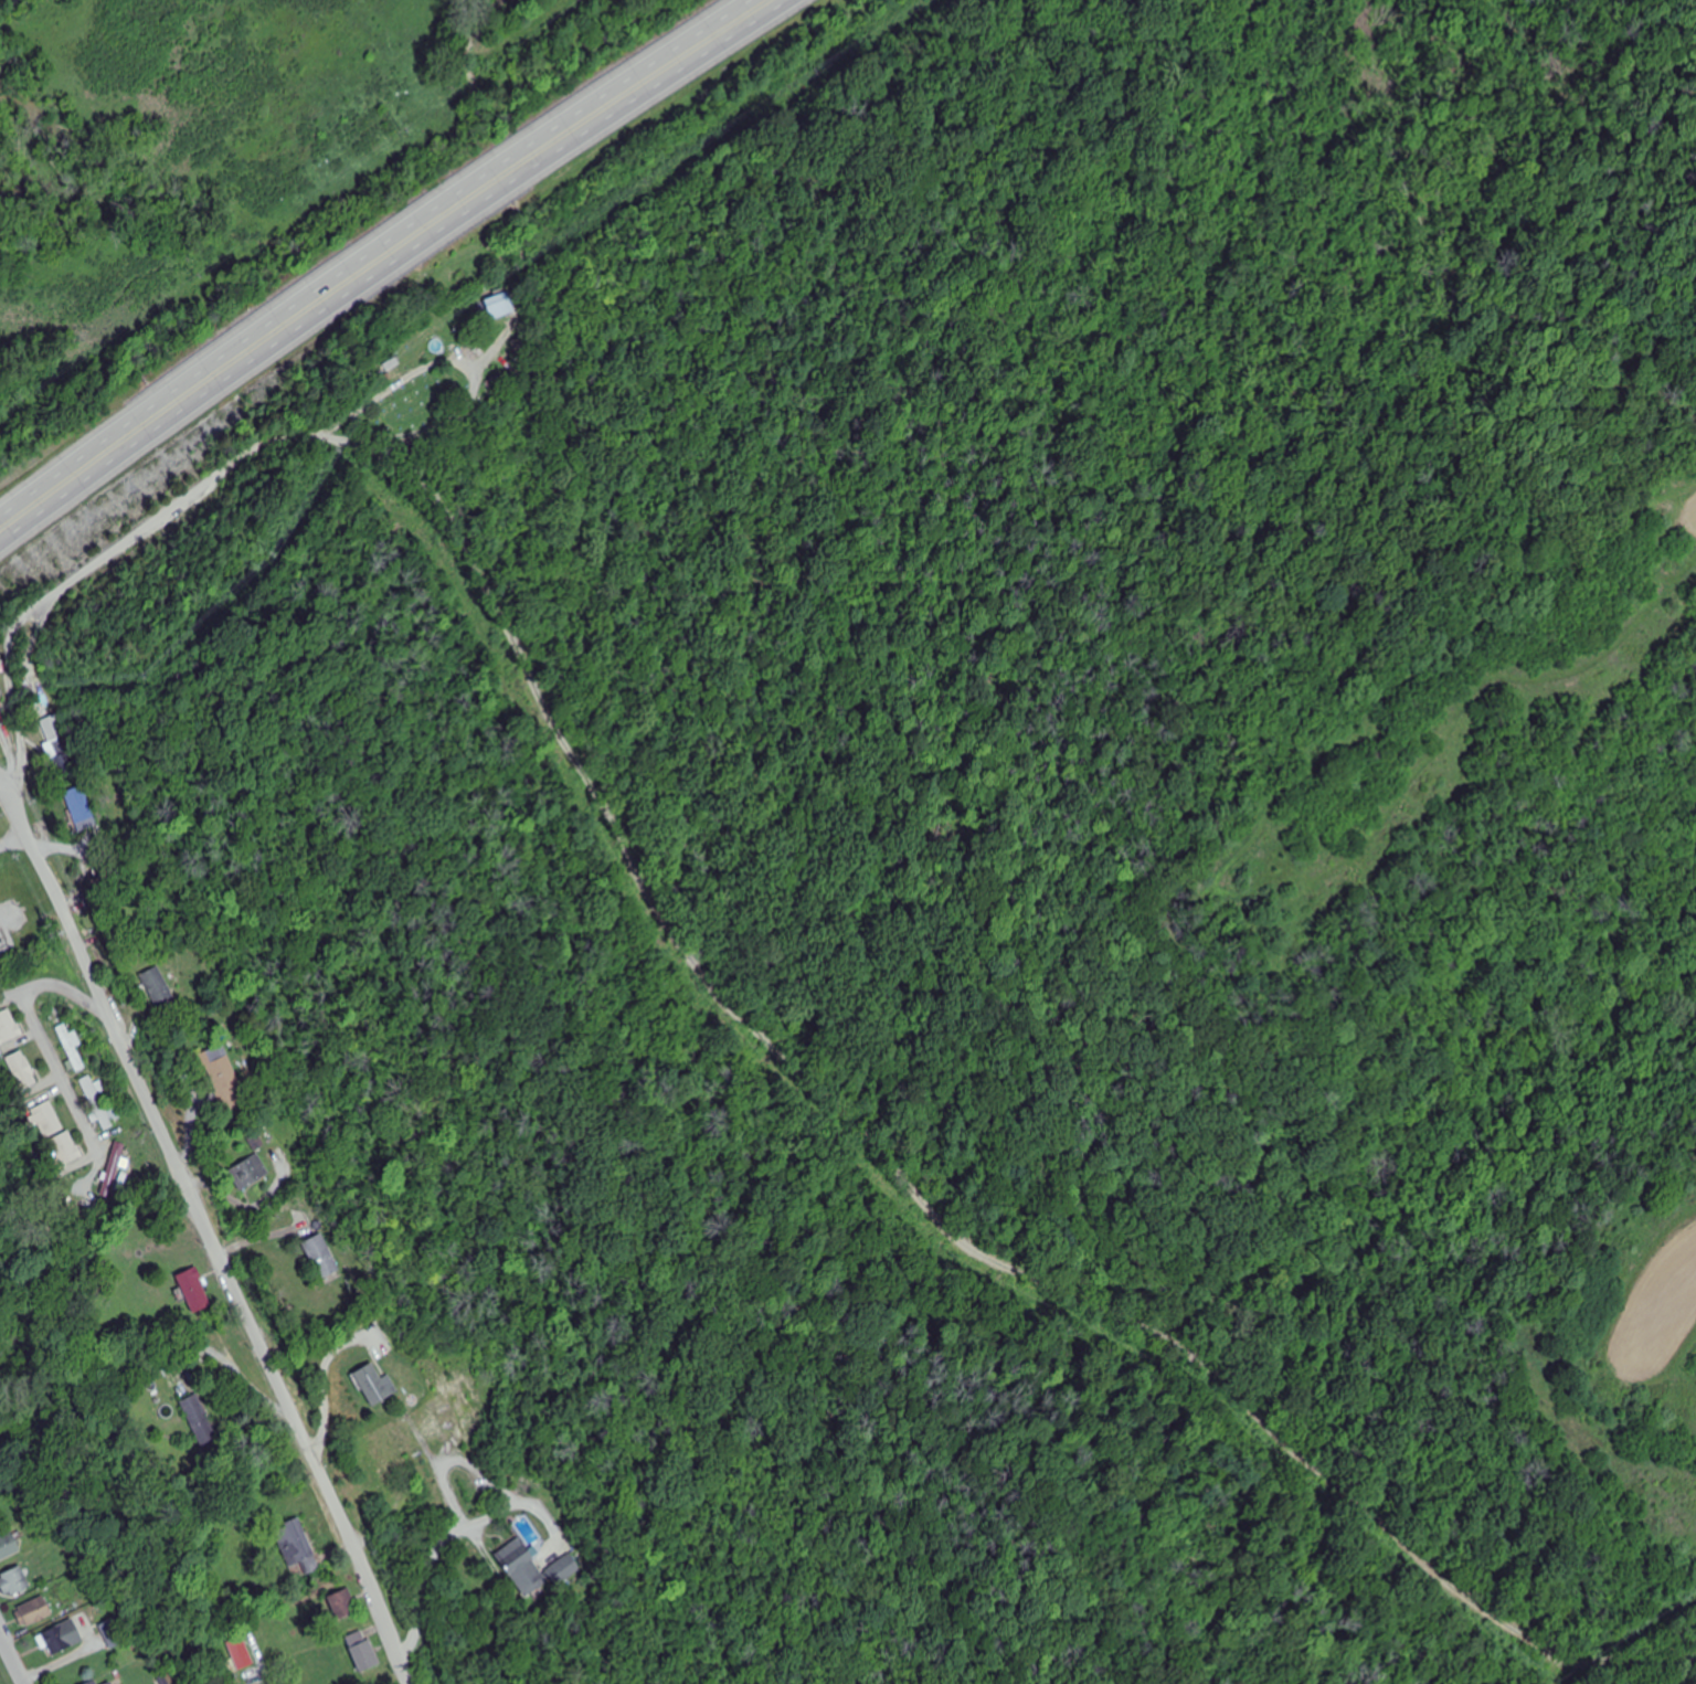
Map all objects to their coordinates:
road: (370, 251)
road: (391, 266)
building: (498, 306)
road: (246, 469)
building: (0, 708)
building: (50, 729)
road: (3, 769)
building: (158, 986)
building: (9, 1027)
road: (40, 1028)
building: (74, 1049)
building: (218, 1067)
building: (22, 1071)
building: (103, 1103)
building: (44, 1119)
building: (65, 1150)
building: (114, 1171)
building: (247, 1174)
road: (206, 1228)
building: (320, 1258)
building: (193, 1288)
building: (374, 1384)
road: (322, 1388)
building: (191, 1406)
building: (295, 1543)
building: (8, 1546)
road: (427, 1565)
building: (521, 1566)
building: (13, 1581)
building: (344, 1604)
building: (34, 1612)
building: (60, 1639)
building: (363, 1652)
building: (240, 1653)
road: (11, 1660)
building: (93, 1683)
building: (112, 1683)

